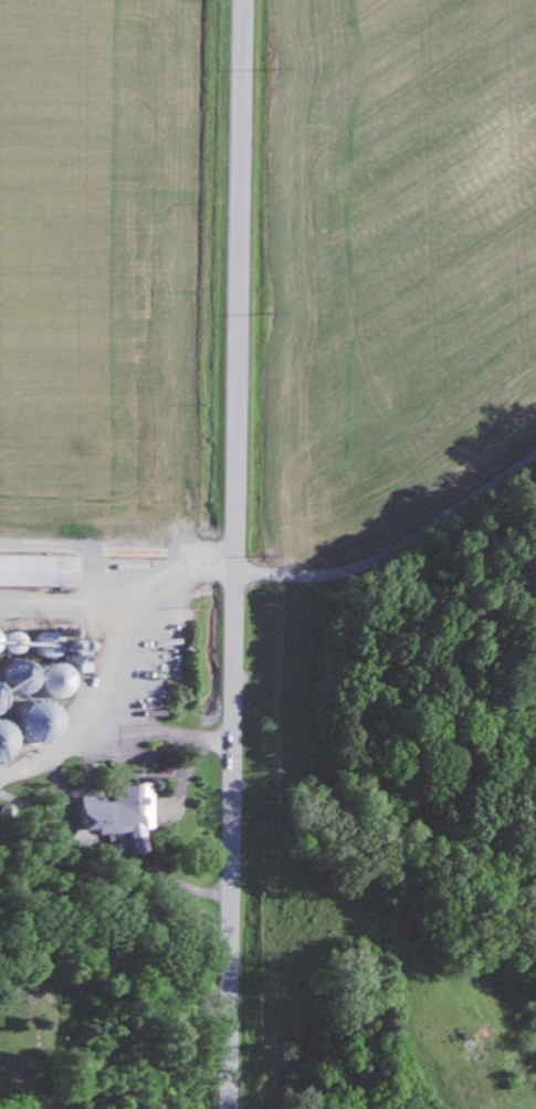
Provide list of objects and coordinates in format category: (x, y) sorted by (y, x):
road: (397, 543)
road: (238, 554)
building: (40, 571)
building: (132, 810)

